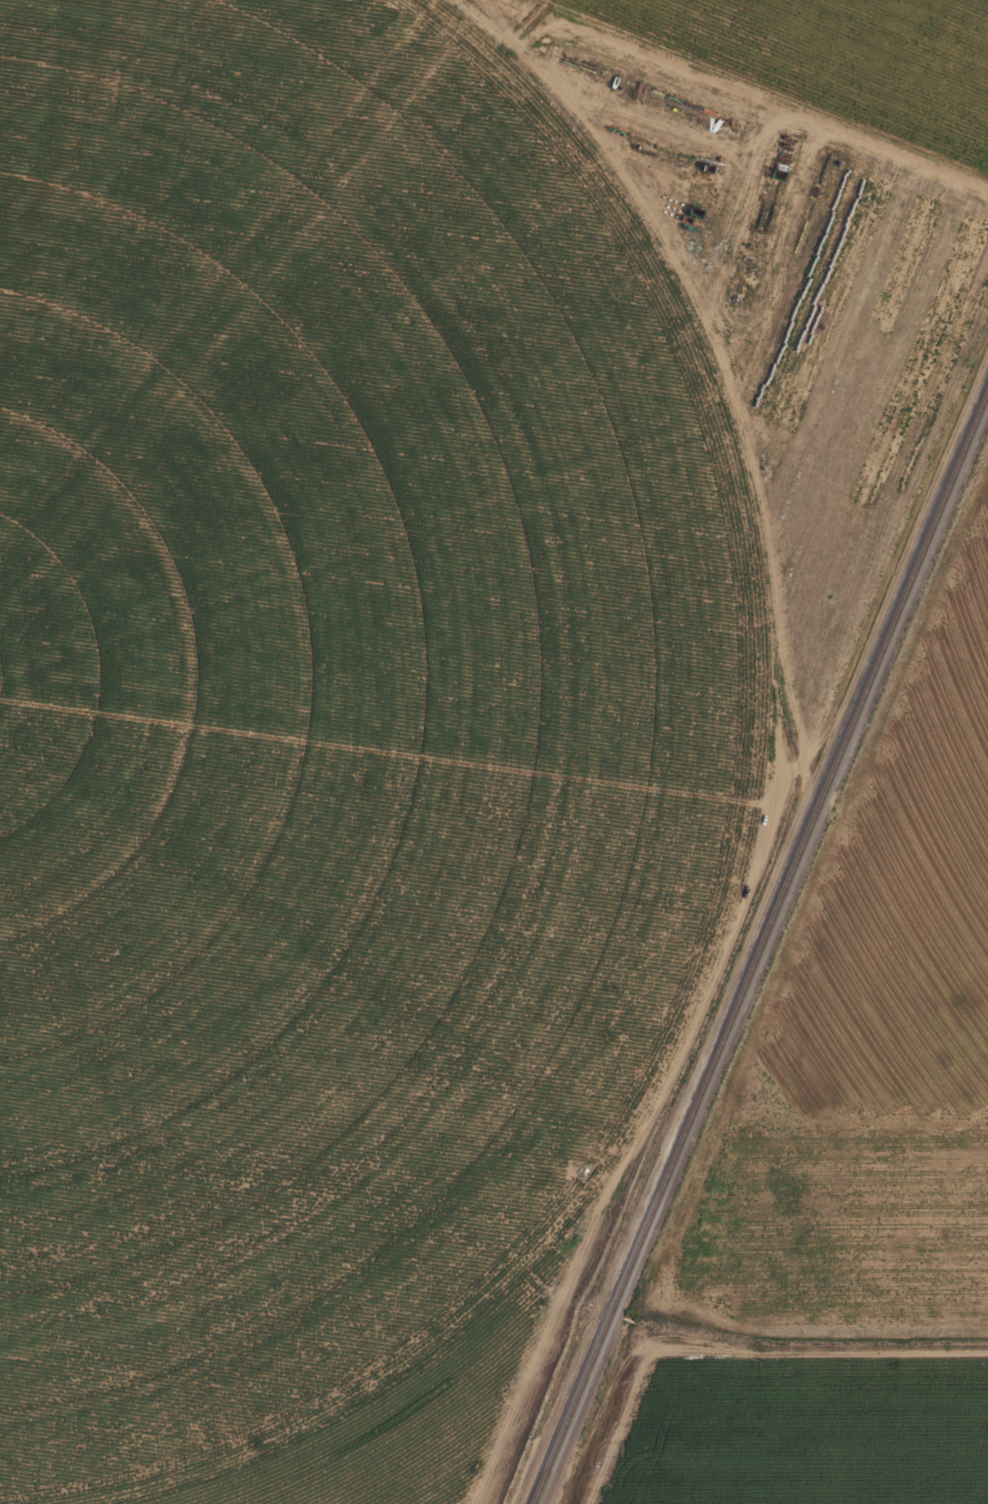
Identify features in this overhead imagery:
crop: (851, 56)
road: (772, 732)
crop: (334, 735)
railway: (761, 947)
road: (730, 1350)

